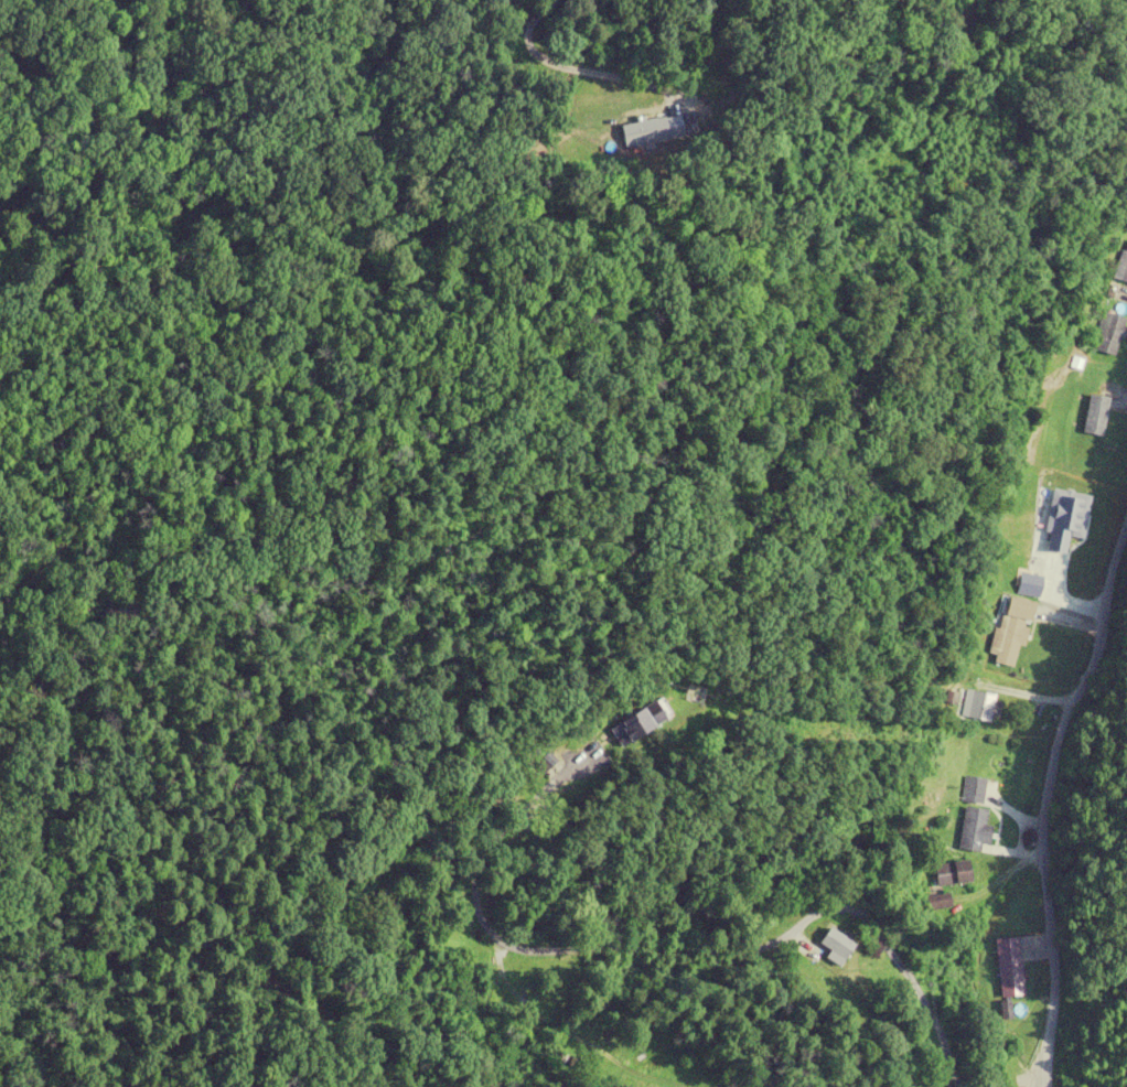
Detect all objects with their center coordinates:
building: (653, 130)
building: (1121, 265)
building: (1107, 334)
building: (1094, 416)
building: (1065, 518)
building: (1010, 628)
building: (980, 706)
building: (642, 722)
building: (972, 790)
road: (1045, 794)
building: (973, 830)
building: (948, 874)
building: (934, 902)
road: (683, 946)
building: (834, 948)
building: (1007, 967)

